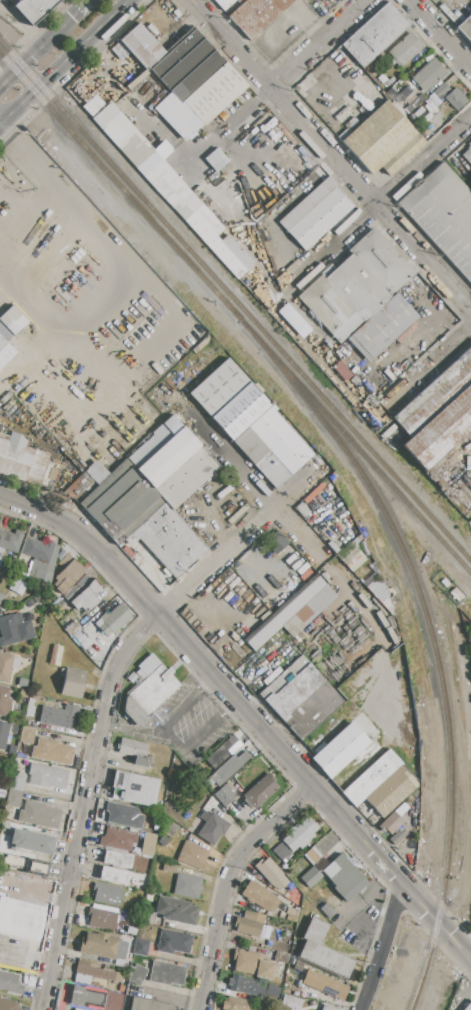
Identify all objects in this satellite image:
building: (225, 3)
building: (34, 8)
building: (257, 14)
building: (466, 27)
road: (441, 33)
building: (375, 35)
road: (42, 42)
building: (141, 46)
building: (405, 49)
road: (62, 60)
building: (186, 65)
road: (290, 68)
building: (428, 75)
building: (441, 90)
building: (211, 96)
building: (456, 98)
building: (381, 139)
road: (332, 153)
building: (467, 153)
railway: (128, 183)
railway: (134, 203)
building: (307, 203)
road: (378, 203)
building: (444, 215)
building: (319, 219)
road: (93, 228)
building: (208, 232)
building: (356, 285)
building: (13, 320)
building: (380, 328)
road: (52, 330)
building: (4, 335)
road: (430, 365)
building: (218, 387)
building: (240, 410)
building: (438, 413)
railway: (363, 444)
building: (272, 447)
building: (23, 460)
building: (173, 462)
railway: (370, 463)
building: (96, 472)
building: (52, 474)
road: (256, 483)
building: (121, 502)
building: (302, 510)
building: (10, 540)
building: (169, 540)
building: (277, 543)
building: (41, 551)
building: (351, 559)
building: (65, 560)
building: (68, 575)
building: (42, 576)
building: (83, 583)
building: (18, 586)
building: (72, 593)
building: (0, 594)
building: (1, 597)
building: (87, 597)
building: (61, 608)
building: (293, 612)
building: (115, 619)
building: (71, 628)
building: (14, 630)
building: (55, 655)
railway: (437, 660)
building: (7, 666)
road: (207, 682)
building: (73, 683)
building: (147, 690)
building: (300, 697)
road: (109, 698)
building: (5, 703)
road: (182, 707)
road: (232, 710)
road: (246, 713)
building: (59, 715)
road: (135, 733)
building: (3, 734)
road: (205, 734)
building: (26, 735)
road: (174, 739)
building: (339, 750)
building: (54, 751)
building: (136, 752)
building: (220, 752)
building: (231, 766)
building: (48, 776)
building: (371, 777)
building: (17, 782)
building: (134, 788)
building: (392, 791)
building: (260, 792)
building: (224, 794)
building: (14, 798)
building: (39, 814)
building: (124, 815)
building: (390, 823)
building: (170, 829)
building: (213, 829)
building: (299, 834)
building: (118, 837)
building: (397, 838)
building: (162, 840)
building: (33, 841)
building: (148, 845)
building: (280, 850)
building: (194, 856)
building: (117, 859)
building: (29, 866)
building: (169, 867)
building: (271, 873)
building: (113, 876)
building: (311, 877)
building: (346, 879)
road: (230, 885)
building: (187, 886)
road: (32, 892)
building: (107, 894)
building: (259, 896)
building: (176, 910)
building: (326, 910)
road: (349, 914)
building: (250, 916)
building: (146, 917)
building: (101, 919)
building: (19, 920)
building: (247, 927)
building: (173, 942)
building: (2, 944)
building: (100, 945)
road: (381, 946)
building: (141, 947)
building: (322, 951)
building: (252, 965)
building: (15, 966)
building: (166, 973)
building: (138, 975)
building: (95, 976)
building: (10, 982)
building: (322, 983)
building: (239, 984)
building: (95, 998)
building: (290, 1003)
building: (239, 1004)
building: (9, 1005)
building: (148, 1005)
building: (468, 1006)
building: (72, 1008)
building: (327, 1008)

